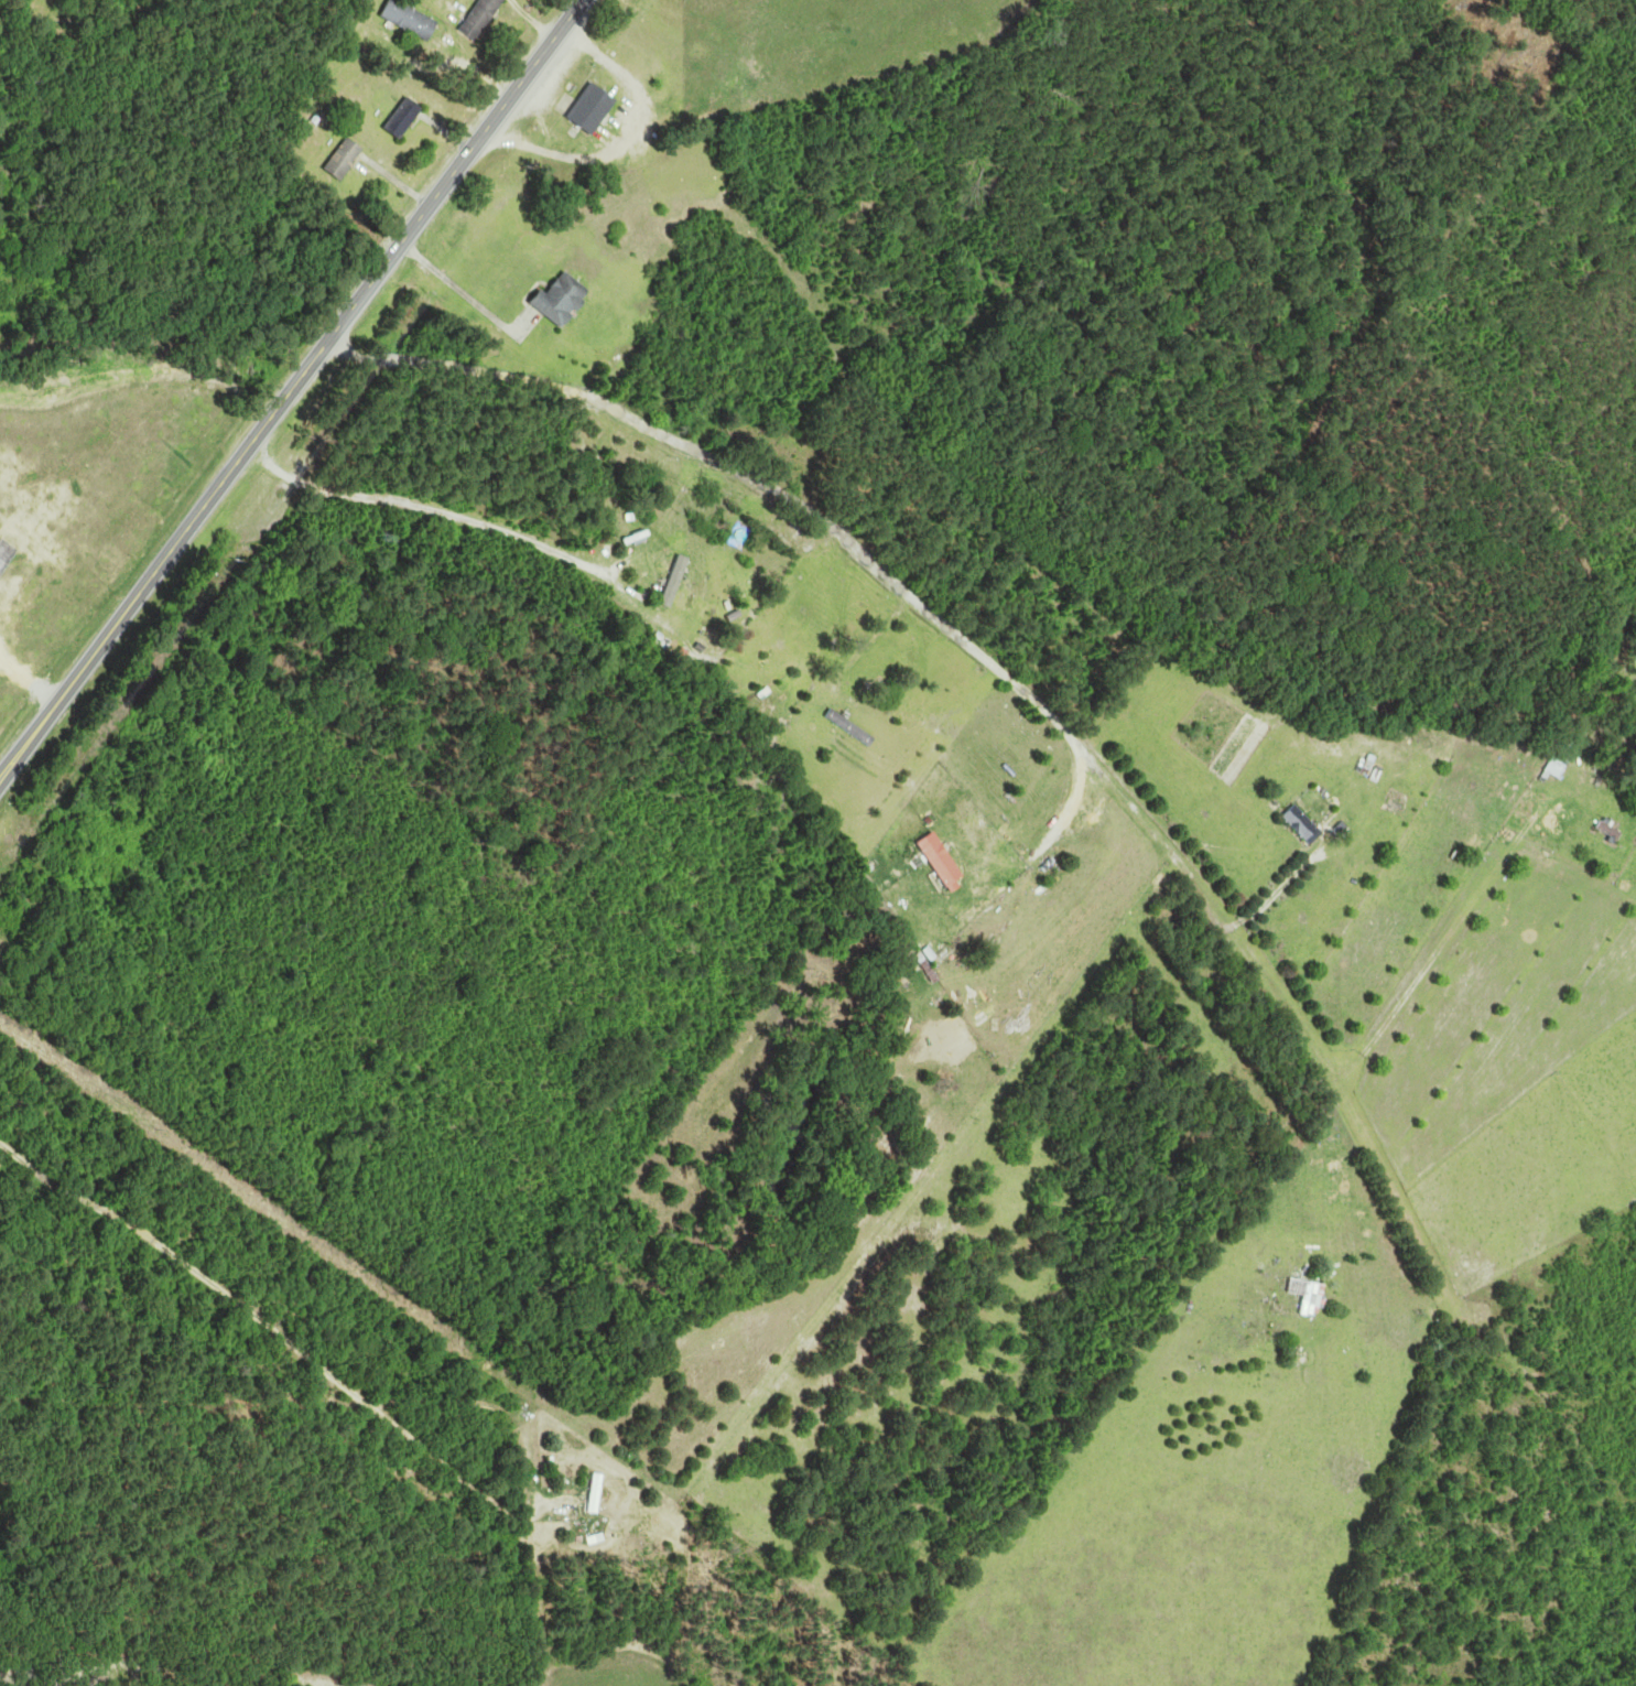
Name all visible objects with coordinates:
building: (412, 19)
building: (484, 19)
building: (596, 108)
building: (408, 118)
building: (348, 159)
road: (462, 291)
building: (564, 300)
road: (291, 389)
road: (424, 508)
road: (908, 596)
building: (853, 727)
building: (1561, 768)
building: (1305, 824)
building: (945, 860)
building: (925, 961)
building: (1310, 1295)
road: (277, 1332)
building: (600, 1492)

